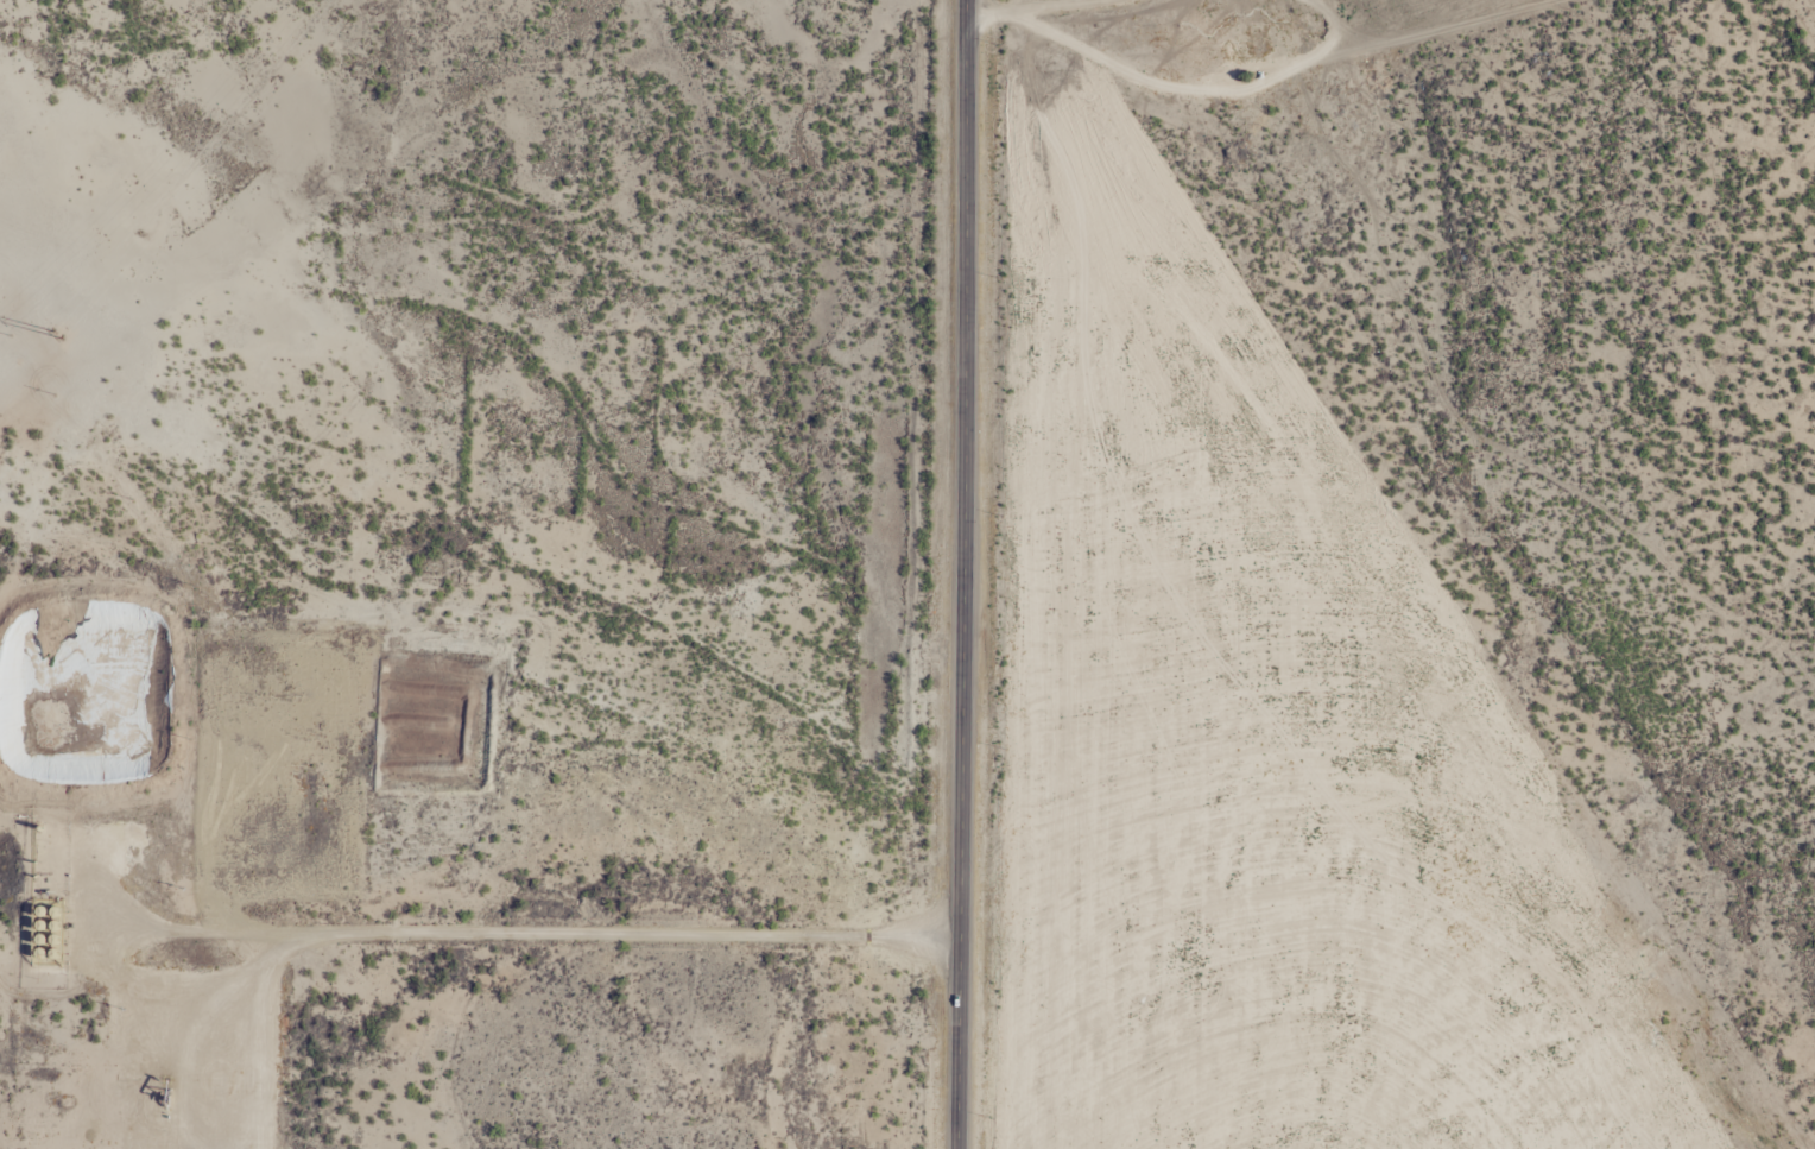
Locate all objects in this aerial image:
road: (1074, 7)
road: (999, 19)
road: (1214, 90)
road: (960, 574)
road: (514, 715)

